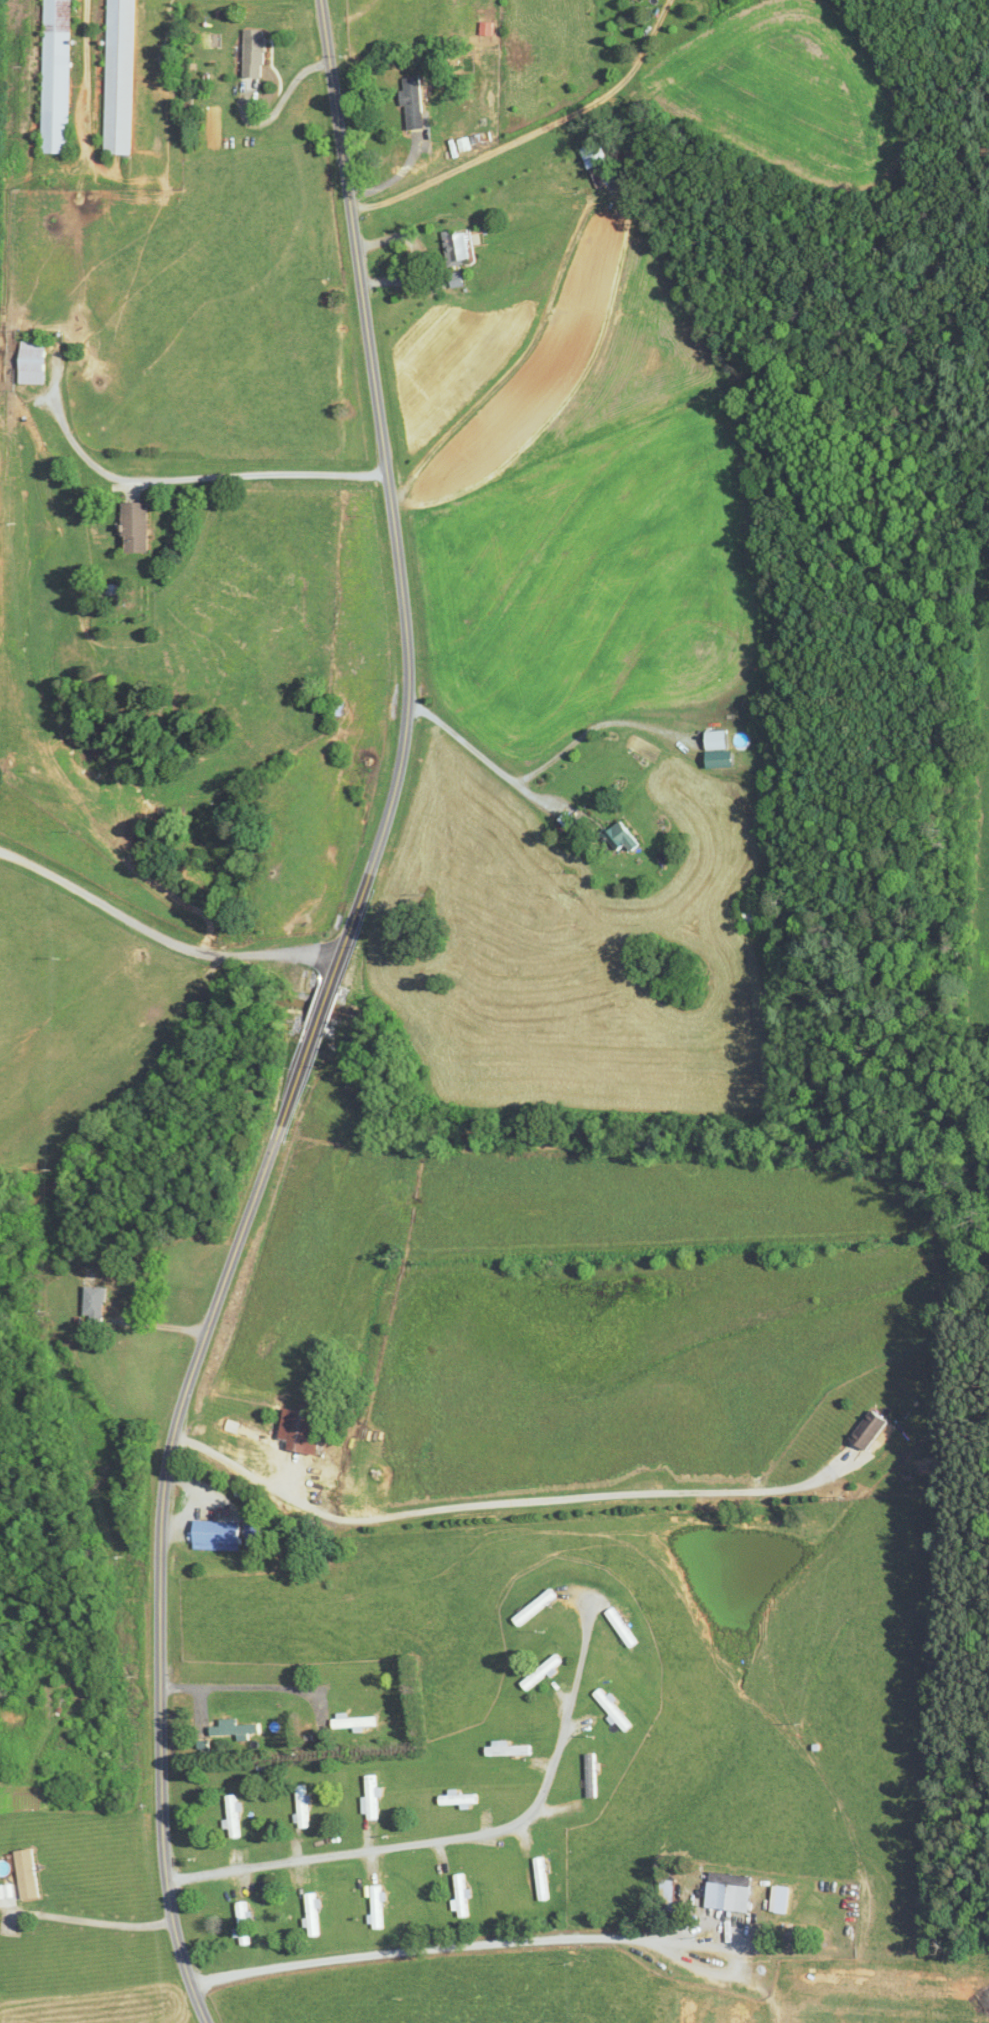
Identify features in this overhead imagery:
building: (258, 54)
building: (57, 77)
building: (122, 77)
road: (283, 98)
building: (415, 104)
road: (531, 131)
road: (392, 177)
road: (623, 215)
building: (458, 247)
building: (34, 362)
road: (256, 473)
building: (140, 527)
building: (118, 594)
building: (719, 739)
road: (487, 760)
road: (458, 807)
building: (630, 836)
building: (754, 917)
road: (160, 935)
road: (317, 1017)
building: (98, 1305)
building: (4, 1380)
building: (871, 1430)
building: (303, 1432)
road: (501, 1502)
building: (259, 1531)
building: (220, 1535)
building: (536, 1606)
building: (623, 1627)
road: (578, 1669)
building: (544, 1671)
road: (239, 1684)
building: (616, 1710)
building: (355, 1722)
building: (236, 1729)
building: (509, 1750)
building: (593, 1775)
building: (372, 1798)
building: (460, 1800)
building: (304, 1807)
building: (234, 1816)
road: (391, 1848)
building: (29, 1875)
building: (541, 1878)
building: (731, 1892)
building: (462, 1895)
building: (781, 1899)
building: (378, 1907)
building: (313, 1915)
road: (93, 1920)
building: (243, 1924)
road: (515, 1940)
building: (891, 1983)
building: (689, 2008)
building: (739, 2009)
building: (808, 2022)

